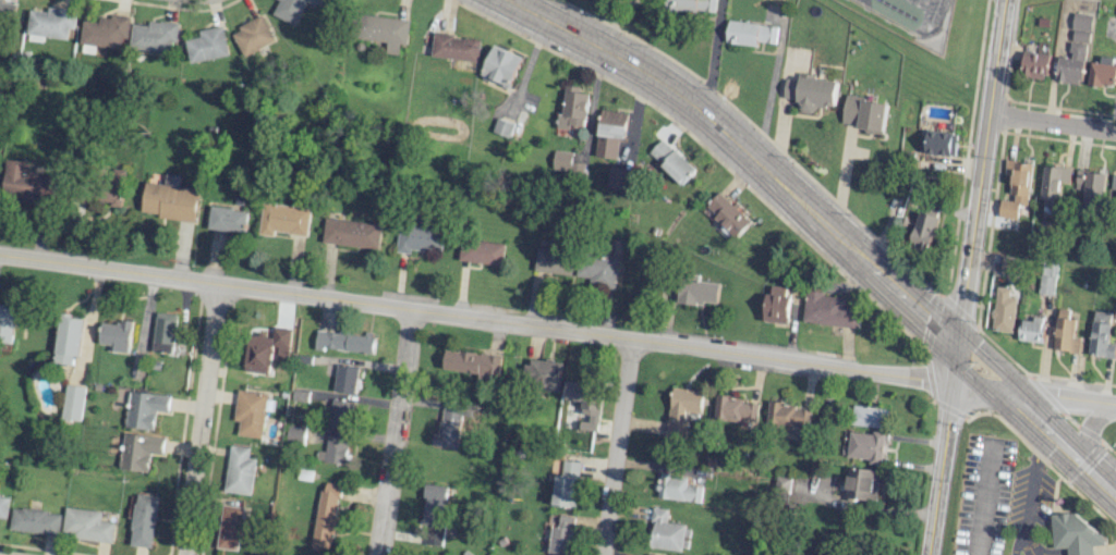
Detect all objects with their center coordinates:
building: (692, 5)
building: (291, 9)
building: (52, 22)
building: (106, 30)
building: (385, 30)
building: (750, 33)
building: (253, 35)
building: (154, 36)
building: (207, 45)
building: (456, 47)
building: (1075, 51)
building: (501, 65)
building: (1034, 65)
building: (1102, 72)
building: (811, 92)
building: (573, 107)
building: (863, 112)
road: (1052, 123)
building: (502, 127)
building: (610, 133)
building: (939, 143)
building: (670, 161)
building: (566, 163)
building: (617, 177)
building: (26, 182)
building: (1053, 182)
building: (1113, 186)
building: (1089, 187)
building: (1016, 188)
building: (170, 199)
road: (810, 210)
building: (727, 213)
building: (228, 219)
building: (283, 219)
building: (923, 231)
building: (351, 233)
building: (418, 238)
building: (482, 251)
building: (553, 259)
building: (1011, 264)
building: (597, 268)
road: (965, 277)
building: (1047, 277)
building: (695, 289)
building: (777, 305)
building: (829, 310)
building: (1004, 310)
road: (555, 326)
building: (1031, 331)
building: (163, 332)
building: (1065, 333)
building: (117, 335)
building: (1101, 335)
building: (68, 341)
building: (344, 341)
traffic signals: (957, 347)
building: (258, 354)
building: (471, 362)
building: (544, 373)
building: (345, 379)
traffic signals: (951, 383)
traffic signals: (1003, 390)
building: (585, 400)
building: (72, 403)
road: (1113, 404)
building: (144, 408)
building: (682, 409)
building: (736, 409)
building: (250, 412)
building: (340, 414)
building: (788, 416)
building: (870, 416)
road: (199, 419)
building: (450, 422)
road: (1084, 429)
road: (391, 431)
building: (294, 434)
road: (620, 446)
building: (866, 446)
building: (333, 449)
building: (139, 451)
building: (239, 471)
road: (1030, 474)
road: (1097, 480)
building: (862, 483)
building: (783, 484)
building: (566, 485)
building: (678, 488)
road: (983, 497)
building: (433, 514)
building: (325, 515)
building: (143, 520)
building: (35, 521)
building: (86, 525)
building: (229, 527)
road: (1024, 530)
building: (668, 532)
building: (1075, 533)
building: (561, 535)
road: (1015, 541)
road: (1027, 547)
road: (1030, 547)
road: (1069, 547)
building: (648, 554)
road: (1036, 554)
road: (1039, 554)
road: (1115, 554)

